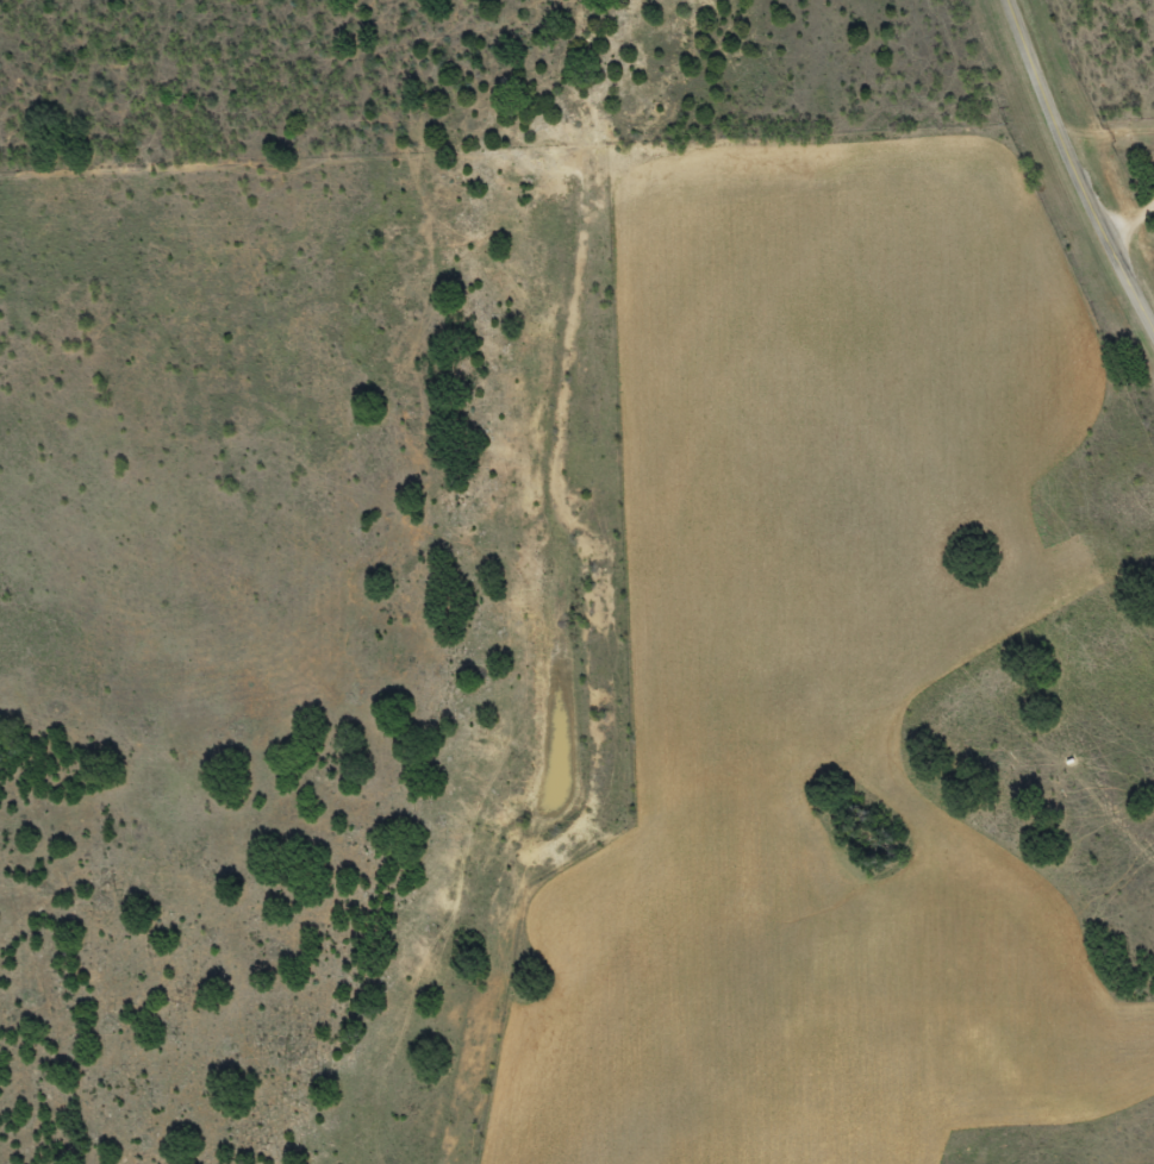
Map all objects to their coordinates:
road: (1075, 165)

